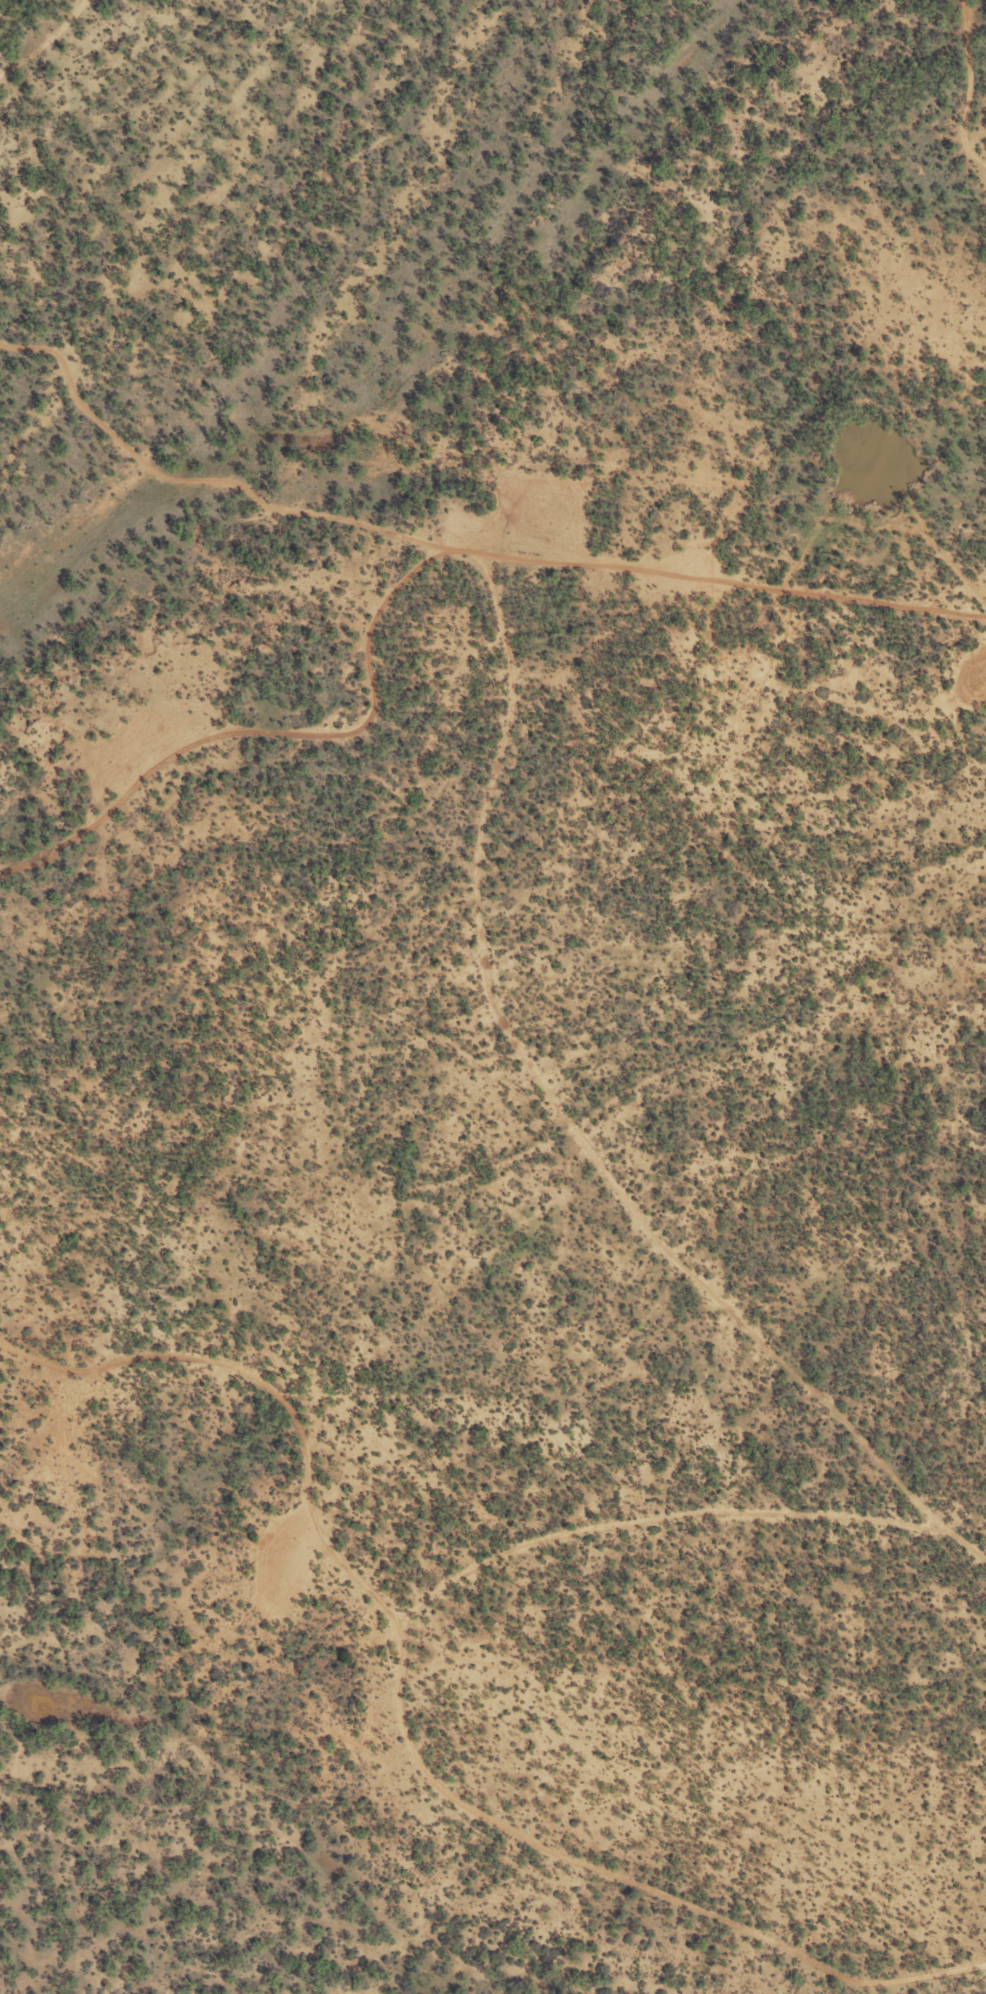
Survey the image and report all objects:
road: (531, 534)
road: (375, 1657)

